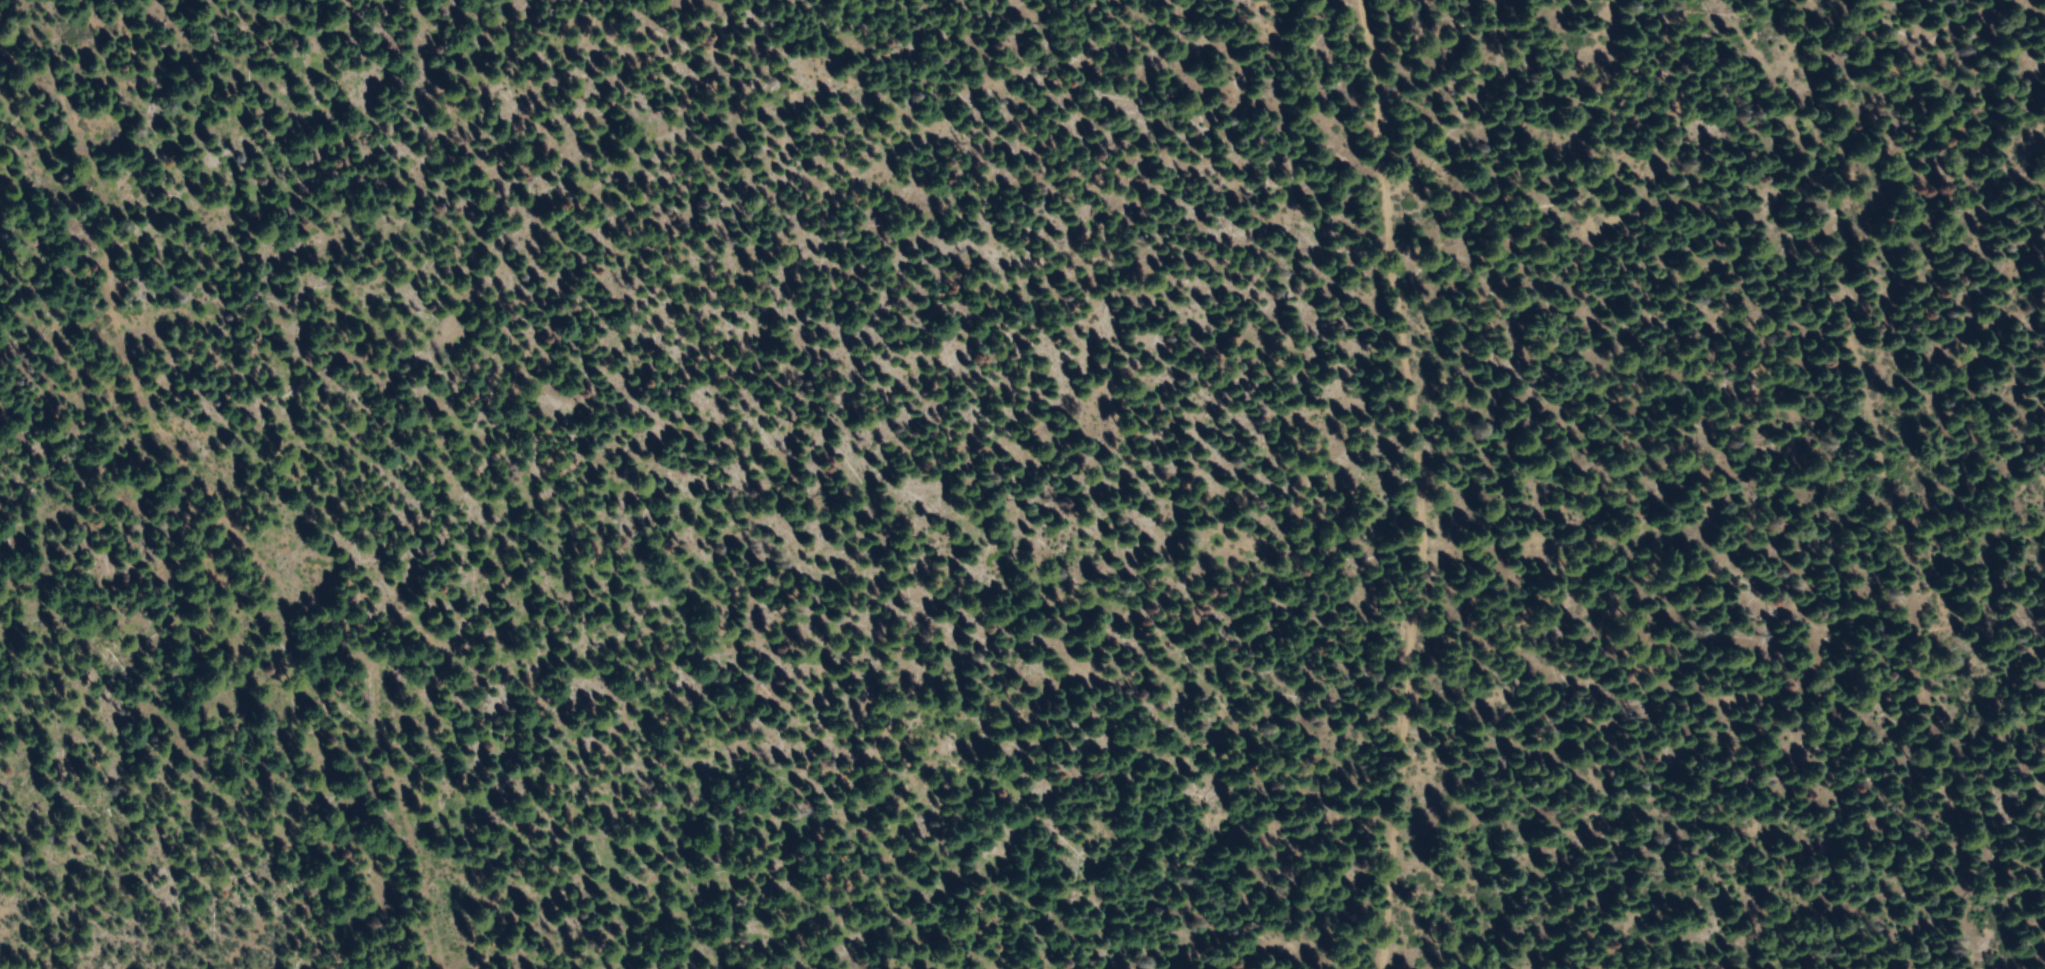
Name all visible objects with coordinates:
road: (1313, 484)

